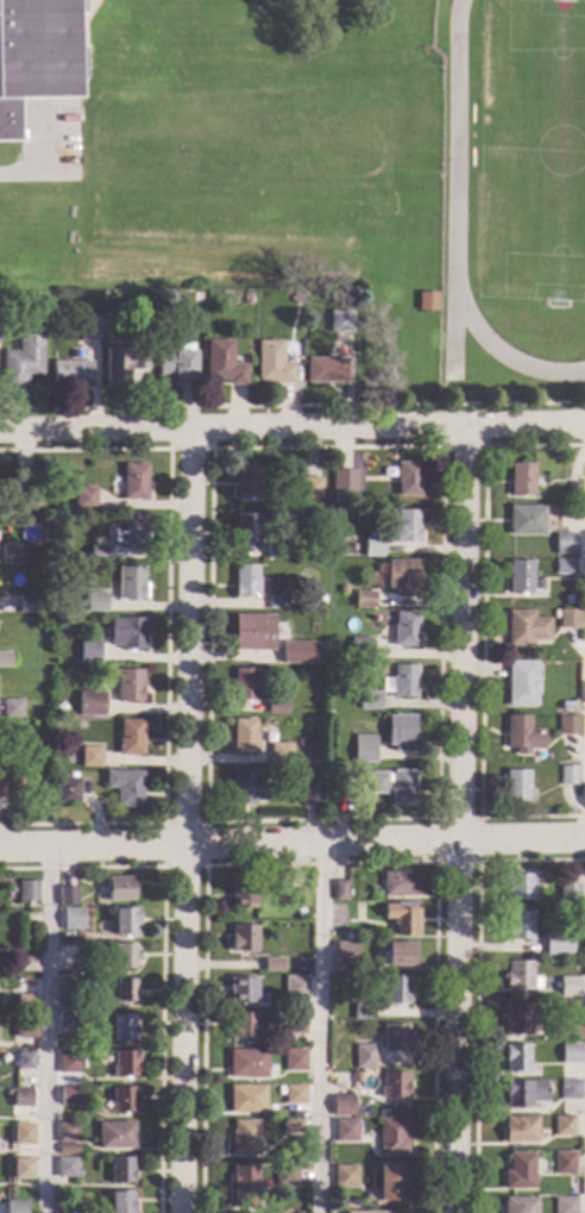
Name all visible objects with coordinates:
road: (84, 2)
building: (34, 55)
road: (78, 69)
parking lot: (46, 138)
track: (454, 138)
park: (531, 154)
road: (42, 160)
building: (196, 296)
building: (245, 298)
building: (295, 298)
building: (7, 300)
building: (424, 300)
building: (87, 313)
building: (339, 320)
building: (88, 327)
track: (452, 329)
track: (499, 351)
building: (23, 356)
building: (224, 362)
building: (121, 363)
building: (272, 363)
building: (178, 364)
building: (139, 367)
building: (325, 369)
building: (70, 373)
road: (292, 405)
road: (292, 427)
road: (440, 445)
road: (441, 445)
road: (189, 449)
building: (405, 477)
building: (520, 479)
building: (134, 481)
building: (246, 481)
building: (341, 483)
building: (309, 488)
building: (572, 490)
building: (30, 498)
building: (83, 498)
building: (524, 520)
building: (405, 525)
building: (246, 529)
building: (132, 532)
building: (564, 544)
building: (372, 545)
building: (276, 550)
building: (99, 552)
building: (10, 554)
building: (63, 555)
building: (562, 565)
building: (402, 576)
building: (518, 576)
building: (245, 581)
building: (130, 582)
building: (342, 589)
building: (320, 599)
building: (364, 599)
building: (95, 601)
building: (277, 601)
building: (27, 604)
building: (565, 618)
building: (524, 627)
building: (404, 629)
building: (126, 632)
road: (164, 632)
building: (252, 632)
road: (480, 633)
building: (360, 649)
building: (296, 651)
building: (92, 654)
building: (5, 658)
building: (401, 682)
building: (520, 682)
building: (244, 683)
building: (128, 684)
building: (369, 700)
building: (90, 704)
building: (566, 705)
building: (276, 706)
building: (12, 708)
building: (7, 725)
building: (566, 725)
building: (400, 732)
building: (243, 734)
building: (521, 734)
building: (130, 736)
building: (363, 748)
building: (279, 752)
building: (89, 756)
building: (567, 775)
building: (125, 786)
building: (391, 786)
building: (516, 786)
building: (5, 787)
building: (243, 787)
building: (67, 789)
building: (310, 792)
road: (458, 819)
road: (184, 820)
road: (291, 839)
road: (435, 862)
road: (321, 863)
road: (161, 865)
building: (400, 882)
building: (518, 886)
building: (120, 888)
building: (26, 890)
building: (339, 890)
building: (568, 893)
building: (241, 894)
building: (67, 895)
building: (297, 898)
building: (400, 915)
building: (73, 918)
building: (283, 918)
building: (125, 920)
building: (517, 925)
building: (243, 938)
building: (556, 943)
building: (70, 949)
building: (344, 952)
building: (397, 953)
building: (124, 955)
road: (159, 959)
building: (26, 963)
building: (272, 964)
building: (517, 975)
road: (476, 983)
building: (73, 986)
building: (295, 987)
building: (568, 987)
building: (124, 989)
building: (241, 989)
building: (395, 989)
building: (24, 1002)
building: (363, 1008)
building: (516, 1018)
building: (294, 1023)
building: (68, 1025)
building: (243, 1025)
road: (316, 1026)
building: (25, 1027)
road: (43, 1027)
building: (122, 1028)
building: (567, 1030)
building: (394, 1036)
building: (570, 1052)
building: (364, 1056)
building: (515, 1057)
building: (21, 1059)
building: (294, 1059)
building: (68, 1062)
building: (124, 1063)
building: (246, 1063)
building: (339, 1076)
building: (394, 1084)
building: (570, 1088)
building: (522, 1092)
building: (294, 1094)
building: (68, 1095)
building: (21, 1096)
building: (245, 1098)
building: (122, 1099)
building: (341, 1105)
building: (561, 1125)
building: (290, 1126)
building: (347, 1128)
building: (520, 1128)
building: (65, 1132)
building: (23, 1133)
building: (113, 1134)
building: (243, 1137)
building: (390, 1137)
building: (67, 1149)
building: (564, 1162)
building: (65, 1167)
building: (21, 1168)
building: (120, 1170)
building: (518, 1170)
building: (284, 1174)
building: (344, 1176)
building: (388, 1182)
building: (243, 1184)
building: (119, 1201)
building: (518, 1205)
building: (564, 1205)
building: (14, 1207)
building: (378, 1212)

